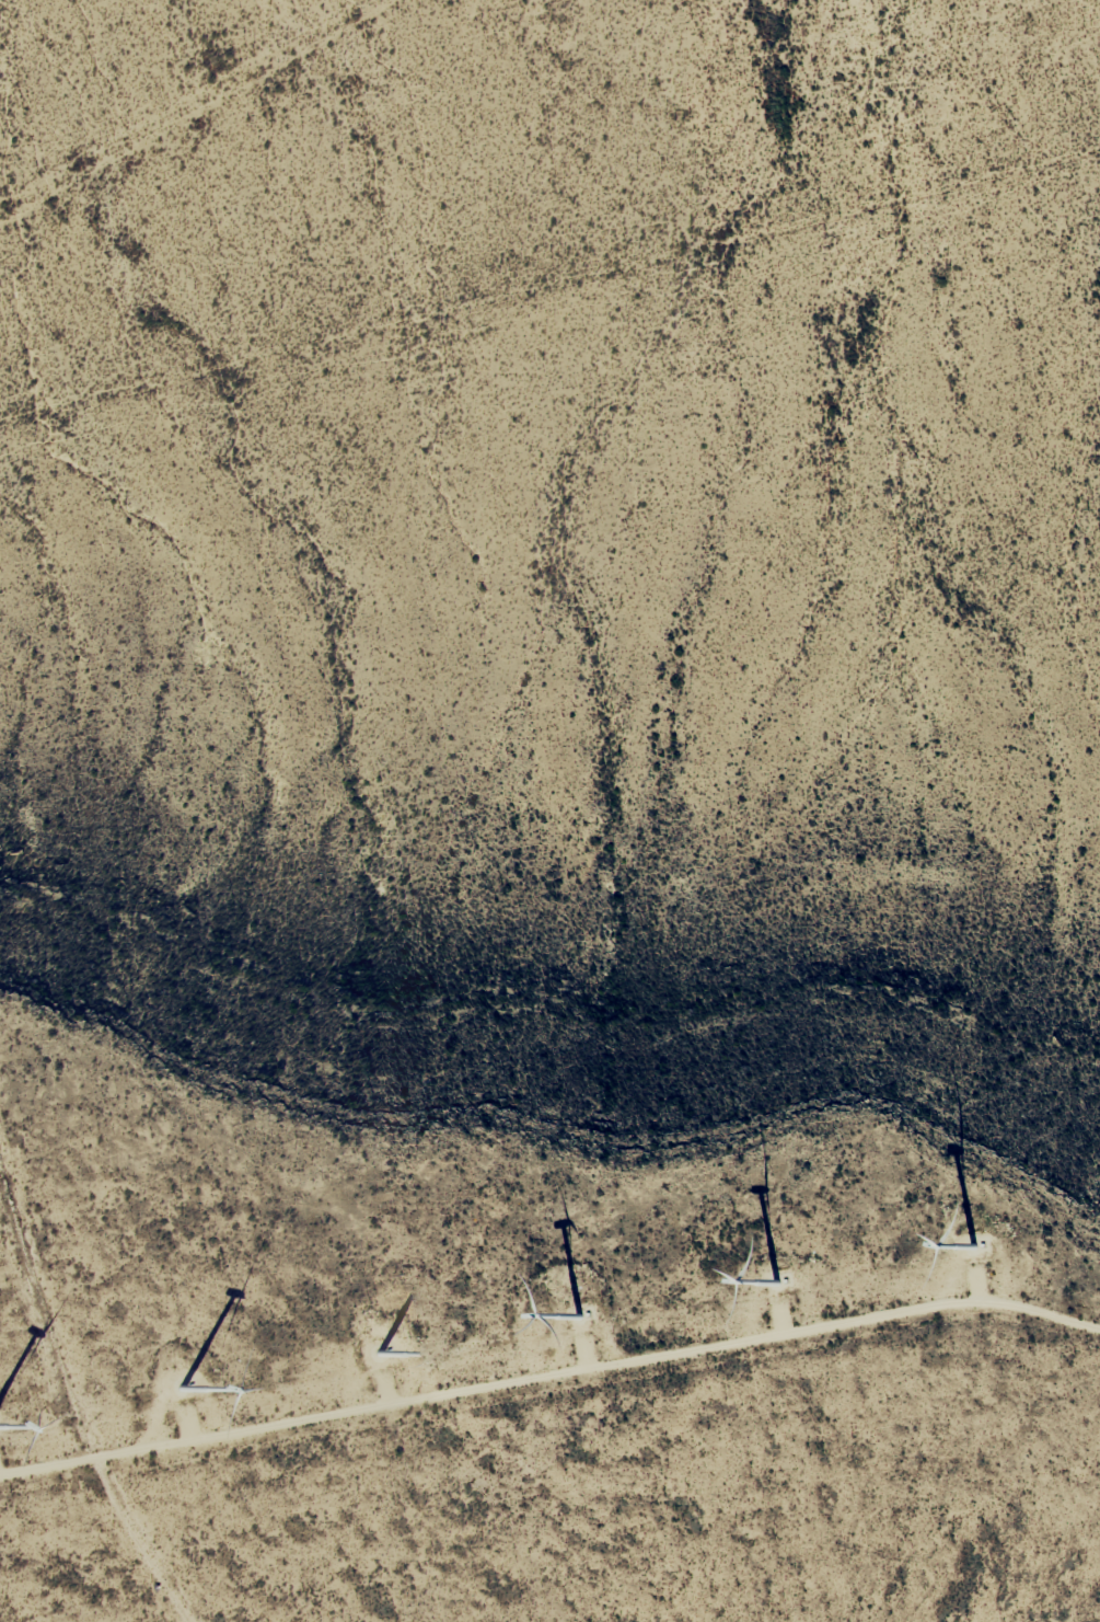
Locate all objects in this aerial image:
wind turbine: (968, 1241)
wind turbine: (774, 1290)
wind turbine: (577, 1321)
wind turbine: (387, 1339)
wind turbine: (172, 1399)

